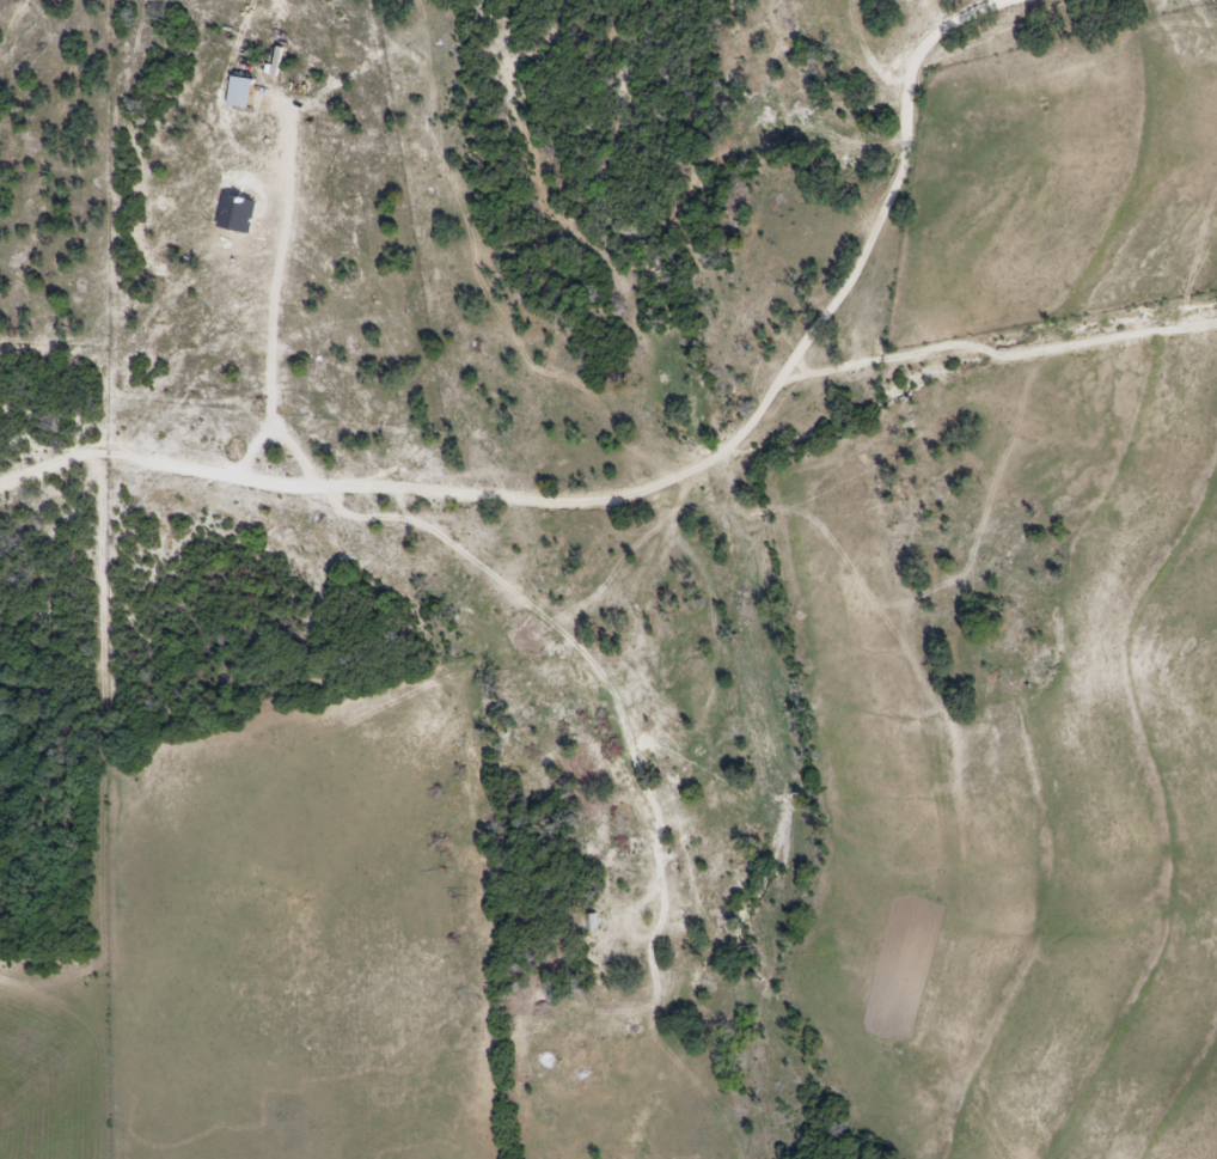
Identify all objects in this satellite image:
road: (610, 474)
building: (249, 862)
building: (589, 922)

